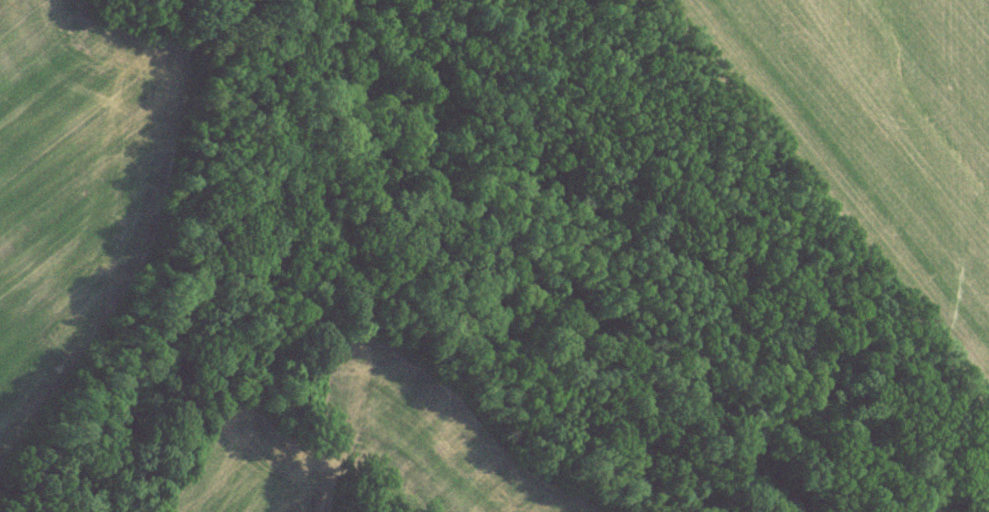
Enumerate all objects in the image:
crop: (74, 186)

